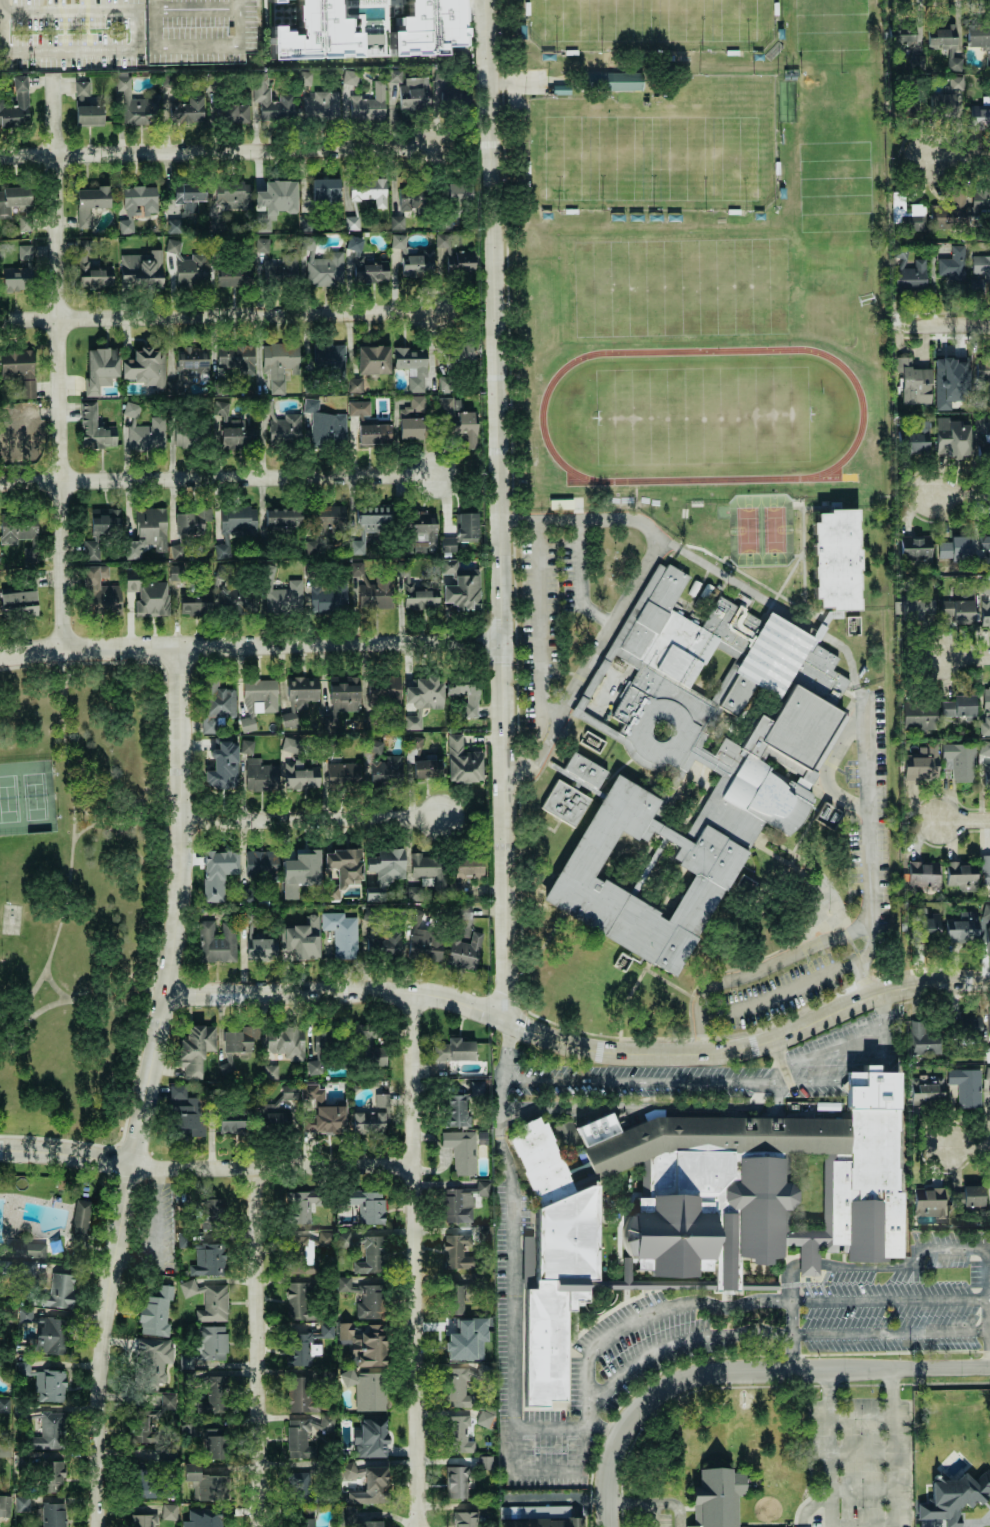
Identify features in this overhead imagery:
building: (276, 0)
road: (2, 4)
road: (139, 7)
building: (423, 23)
park: (586, 24)
park: (707, 25)
building: (314, 28)
building: (198, 31)
building: (902, 35)
building: (942, 35)
building: (978, 35)
road: (134, 50)
road: (139, 50)
building: (988, 61)
building: (954, 63)
building: (394, 76)
building: (441, 76)
building: (350, 77)
road: (516, 81)
building: (614, 81)
building: (956, 82)
building: (414, 93)
building: (272, 102)
building: (16, 103)
building: (134, 104)
building: (369, 104)
building: (945, 104)
building: (322, 105)
building: (86, 106)
building: (911, 106)
building: (183, 109)
building: (229, 109)
building: (980, 116)
park: (710, 145)
road: (217, 150)
park: (583, 154)
road: (958, 158)
building: (326, 189)
building: (369, 190)
building: (459, 191)
building: (233, 194)
building: (189, 196)
building: (18, 197)
building: (411, 198)
building: (140, 200)
building: (90, 203)
building: (980, 203)
building: (4, 207)
building: (949, 211)
building: (913, 218)
building: (397, 222)
building: (25, 223)
building: (352, 223)
building: (126, 226)
building: (174, 226)
building: (398, 241)
building: (444, 241)
building: (173, 246)
building: (460, 262)
building: (952, 263)
building: (366, 264)
building: (417, 264)
building: (321, 265)
building: (91, 269)
building: (192, 269)
building: (141, 270)
building: (20, 271)
building: (980, 271)
building: (910, 274)
building: (230, 276)
road: (217, 316)
road: (940, 324)
building: (235, 355)
building: (458, 355)
building: (330, 358)
building: (373, 359)
road: (56, 361)
building: (193, 361)
building: (280, 364)
building: (144, 367)
building: (412, 367)
building: (18, 368)
building: (100, 369)
building: (983, 375)
building: (949, 382)
building: (914, 383)
building: (175, 384)
building: (445, 384)
building: (448, 407)
building: (363, 408)
track: (543, 415)
building: (412, 418)
building: (982, 423)
building: (282, 425)
building: (95, 429)
building: (144, 430)
building: (467, 430)
building: (235, 431)
building: (328, 432)
building: (188, 434)
building: (374, 434)
building: (952, 437)
building: (15, 442)
building: (914, 442)
building: (984, 448)
road: (219, 478)
road: (961, 495)
road: (499, 509)
building: (283, 517)
building: (370, 525)
building: (234, 526)
building: (326, 527)
building: (467, 527)
park: (748, 529)
park: (762, 529)
park: (775, 529)
building: (17, 530)
building: (101, 530)
building: (148, 532)
building: (187, 532)
building: (985, 539)
building: (448, 544)
building: (915, 548)
building: (956, 549)
building: (29, 553)
building: (449, 566)
building: (176, 572)
road: (583, 580)
building: (984, 586)
building: (372, 589)
building: (100, 590)
building: (464, 590)
road: (633, 594)
building: (149, 597)
building: (286, 597)
building: (327, 597)
building: (418, 598)
building: (18, 602)
road: (771, 602)
building: (195, 603)
building: (963, 607)
building: (917, 609)
building: (984, 613)
road: (542, 623)
building: (853, 625)
road: (251, 646)
road: (963, 657)
road: (90, 663)
building: (384, 690)
building: (302, 691)
building: (466, 693)
building: (343, 694)
building: (422, 698)
building: (257, 700)
building: (218, 706)
building: (959, 706)
building: (985, 713)
building: (919, 715)
building: (289, 719)
building: (593, 741)
building: (290, 744)
building: (247, 746)
building: (374, 746)
building: (984, 748)
building: (705, 749)
building: (421, 760)
building: (463, 761)
building: (960, 761)
building: (922, 764)
building: (223, 765)
road: (830, 767)
building: (387, 770)
building: (343, 773)
building: (986, 774)
building: (260, 775)
building: (300, 775)
park: (27, 798)
road: (869, 809)
road: (311, 817)
road: (965, 818)
road: (182, 820)
road: (123, 823)
road: (72, 854)
road: (791, 860)
building: (260, 861)
building: (345, 866)
building: (469, 867)
building: (429, 869)
building: (986, 869)
building: (300, 871)
building: (384, 872)
building: (217, 873)
building: (923, 874)
building: (961, 875)
building: (331, 888)
park: (86, 890)
road: (838, 905)
building: (986, 911)
road: (815, 920)
road: (825, 925)
building: (962, 931)
building: (342, 933)
building: (256, 940)
building: (301, 940)
building: (988, 940)
building: (423, 941)
building: (217, 942)
building: (382, 942)
road: (861, 959)
road: (758, 971)
road: (929, 985)
road: (780, 994)
road: (74, 1002)
road: (885, 1011)
building: (971, 1023)
building: (988, 1024)
road: (523, 1026)
building: (240, 1039)
building: (922, 1039)
building: (286, 1042)
road: (836, 1047)
building: (320, 1048)
building: (195, 1049)
building: (454, 1050)
road: (886, 1051)
building: (987, 1054)
building: (227, 1069)
building: (270, 1071)
road: (861, 1074)
road: (666, 1081)
road: (815, 1081)
building: (477, 1088)
building: (965, 1088)
building: (925, 1090)
building: (289, 1092)
building: (989, 1097)
building: (381, 1100)
building: (456, 1110)
building: (322, 1112)
building: (271, 1118)
building: (368, 1123)
building: (231, 1127)
road: (968, 1144)
building: (461, 1151)
road: (65, 1153)
road: (273, 1166)
building: (972, 1196)
building: (463, 1202)
building: (928, 1202)
building: (368, 1205)
building: (299, 1206)
building: (213, 1215)
building: (80, 1219)
building: (677, 1223)
building: (325, 1239)
building: (527, 1250)
building: (458, 1251)
road: (115, 1257)
building: (305, 1258)
building: (208, 1259)
road: (416, 1259)
road: (914, 1261)
road: (811, 1265)
building: (28, 1268)
road: (510, 1277)
road: (794, 1281)
building: (364, 1298)
building: (297, 1299)
building: (454, 1299)
building: (209, 1300)
road: (892, 1302)
road: (663, 1310)
building: (156, 1312)
building: (25, 1314)
road: (989, 1316)
road: (792, 1318)
building: (327, 1330)
road: (989, 1332)
road: (794, 1333)
road: (894, 1333)
building: (54, 1336)
building: (467, 1339)
building: (364, 1343)
road: (682, 1343)
building: (207, 1347)
road: (259, 1347)
road: (790, 1351)
building: (153, 1361)
road: (819, 1370)
building: (484, 1371)
building: (45, 1383)
building: (458, 1387)
building: (366, 1389)
building: (302, 1395)
building: (215, 1396)
building: (4, 1405)
road: (596, 1413)
building: (484, 1418)
building: (48, 1430)
building: (459, 1434)
building: (304, 1435)
building: (370, 1438)
building: (216, 1443)
road: (896, 1447)
road: (827, 1448)
building: (4, 1449)
road: (616, 1454)
parking lot: (860, 1456)
building: (485, 1462)
road: (555, 1473)
building: (53, 1475)
building: (457, 1481)
building: (152, 1484)
building: (208, 1484)
building: (371, 1486)
building: (723, 1494)
road: (558, 1498)
building: (952, 1498)
road: (624, 1499)
building: (22, 1503)
building: (4, 1505)
building: (169, 1511)
building: (534, 1511)
building: (187, 1512)
building: (348, 1512)
parking lot: (664, 1512)
building: (52, 1514)
building: (464, 1519)
building: (145, 1520)
building: (559, 1522)
building: (201, 1523)
building: (308, 1524)

